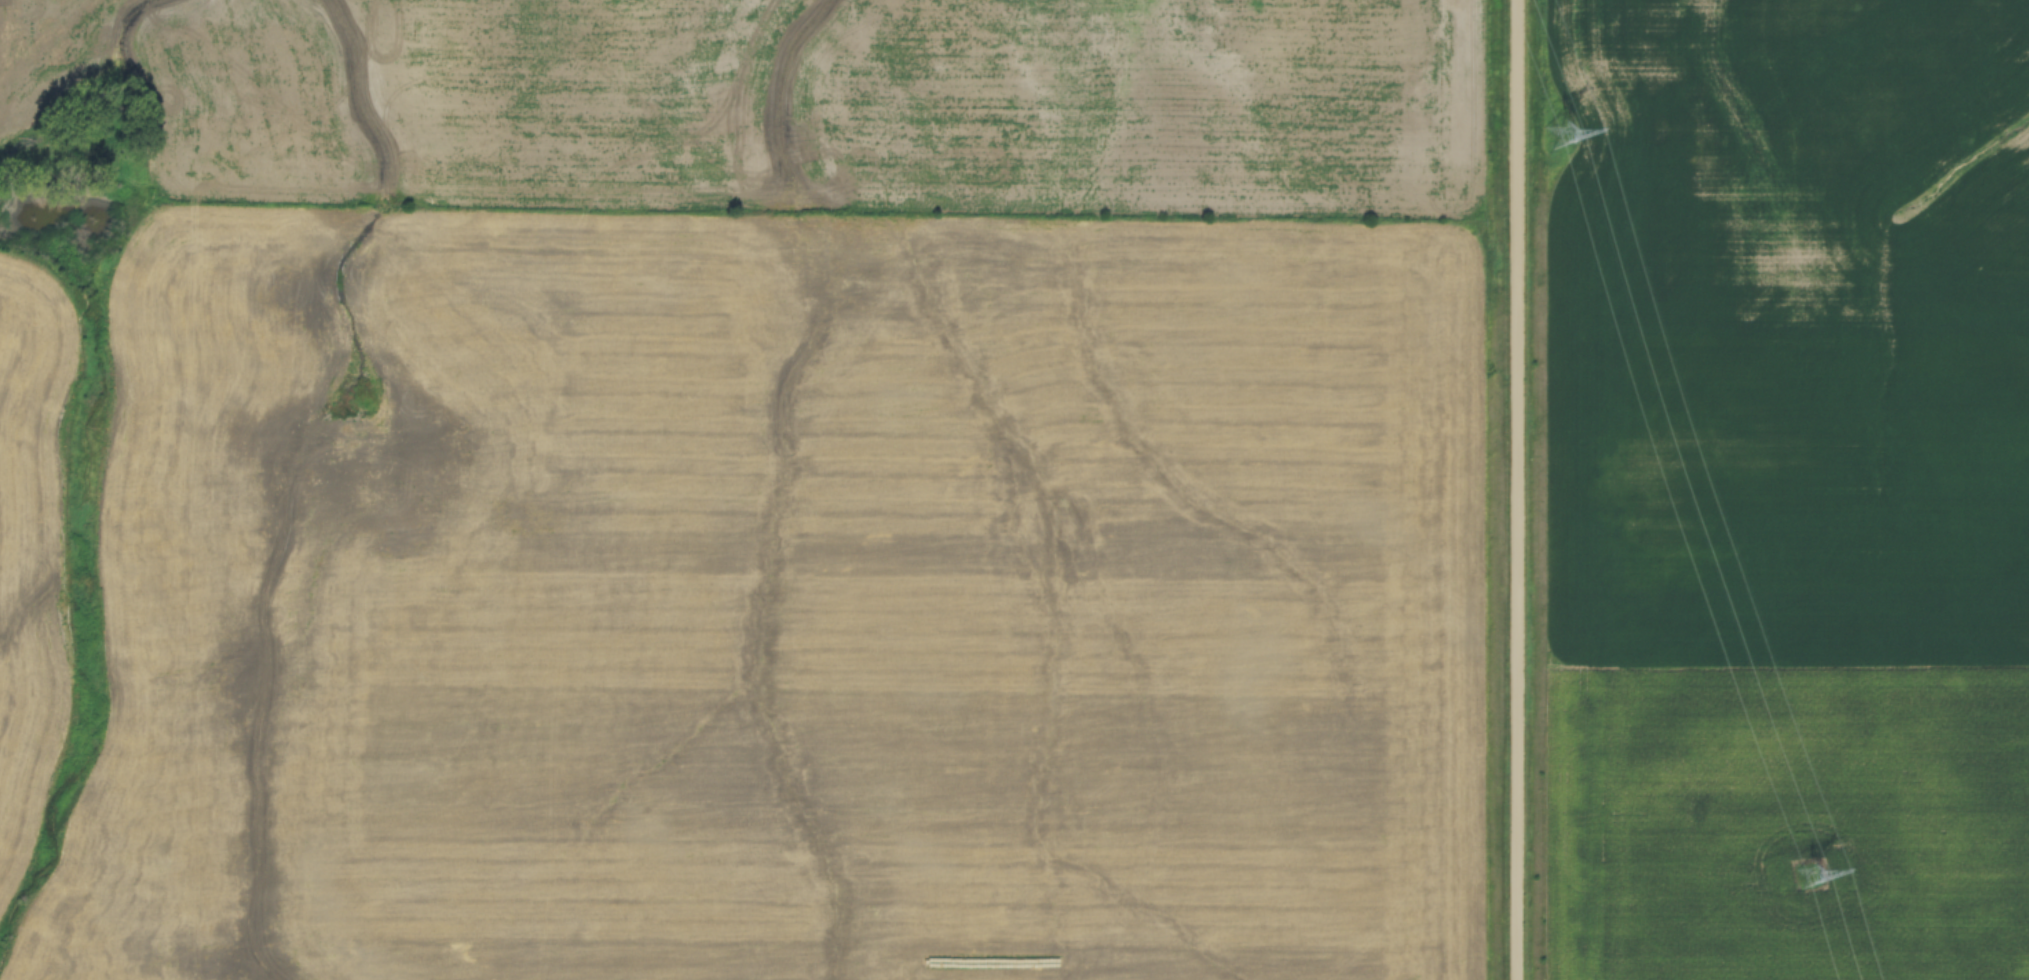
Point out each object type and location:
power tower: (1554, 116)
road: (1510, 490)
power tower: (1798, 860)

